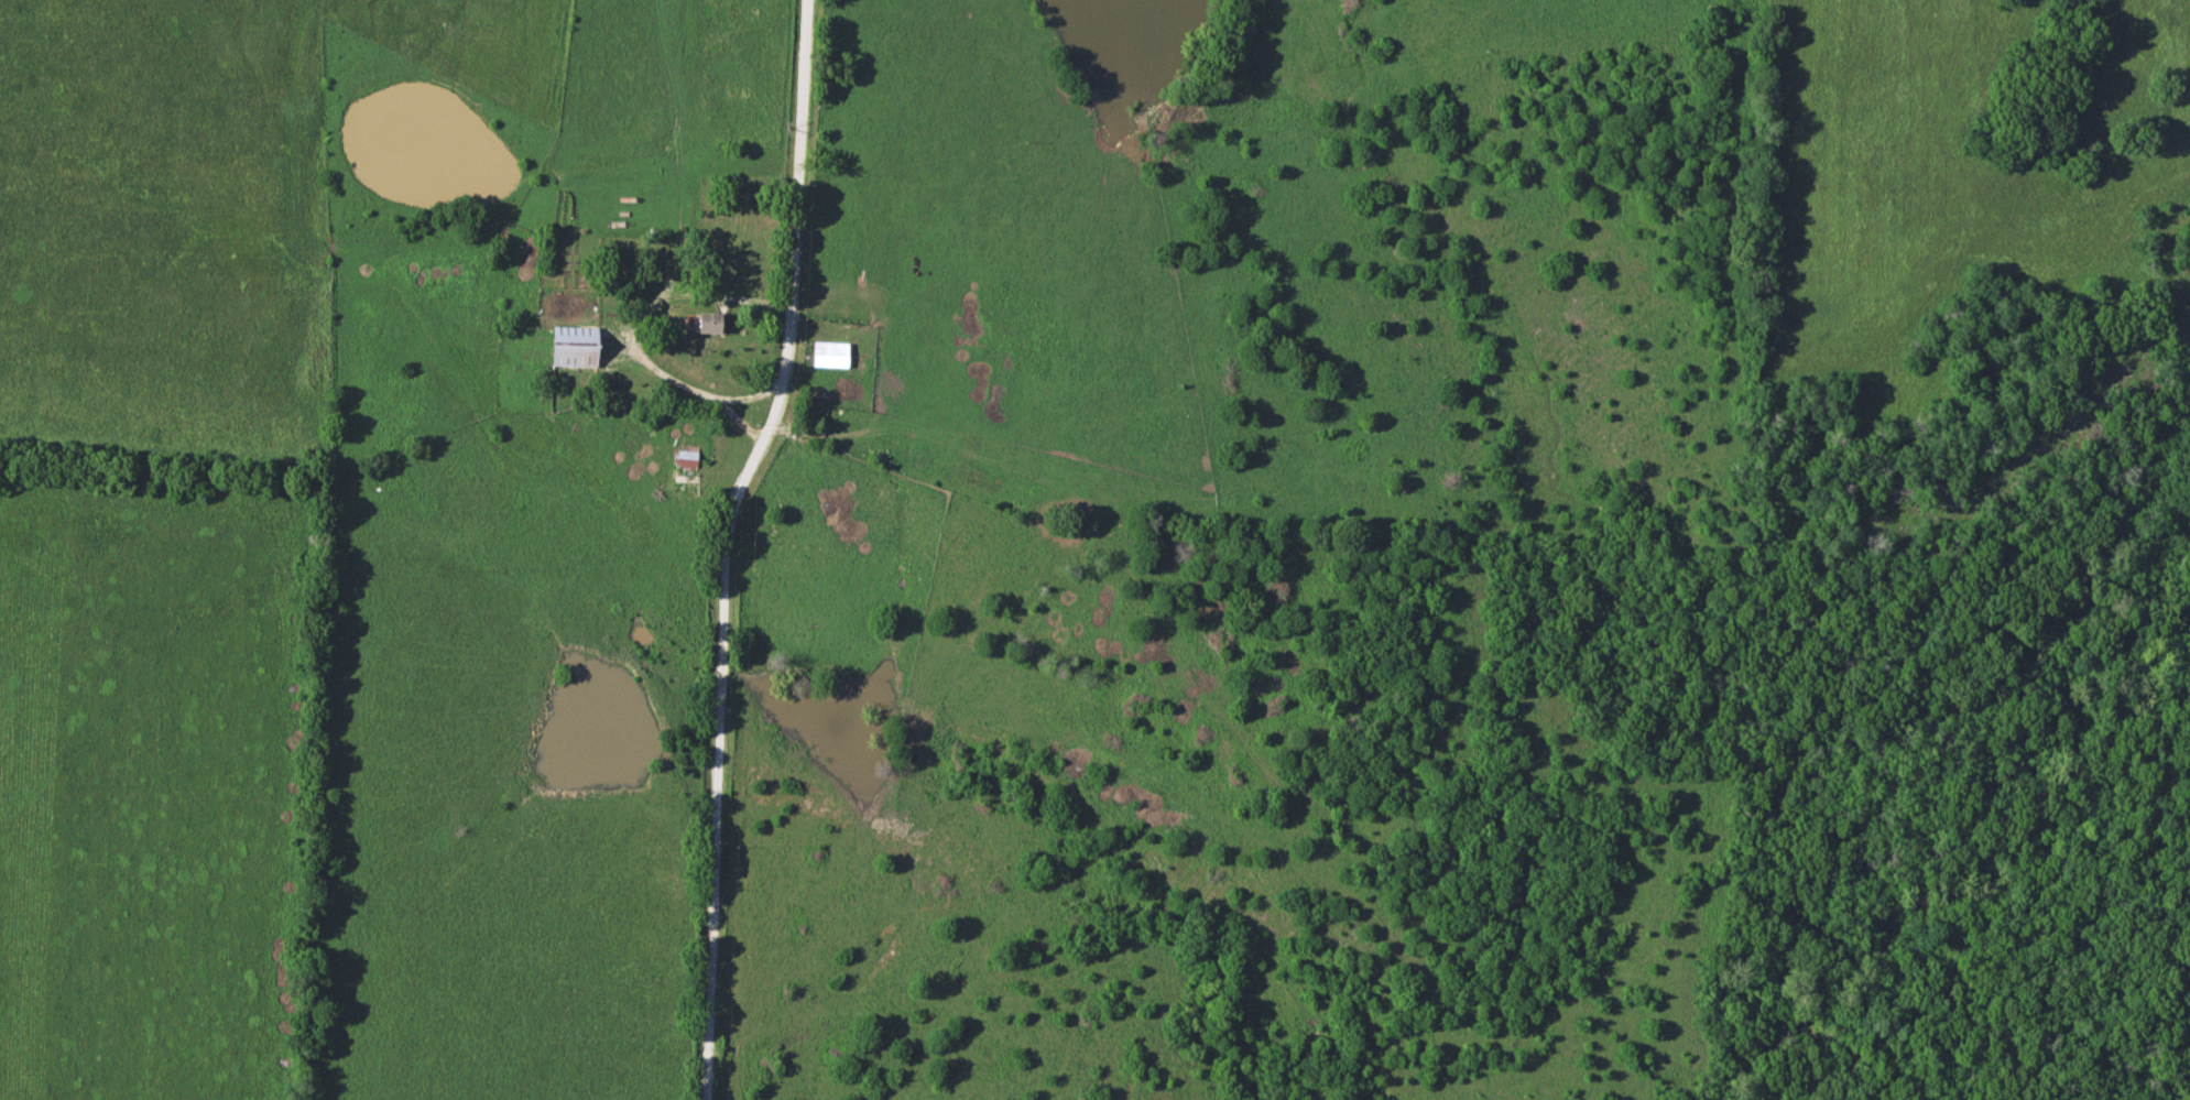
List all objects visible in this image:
building: (706, 323)
road: (636, 336)
building: (569, 355)
building: (684, 470)
road: (727, 543)

